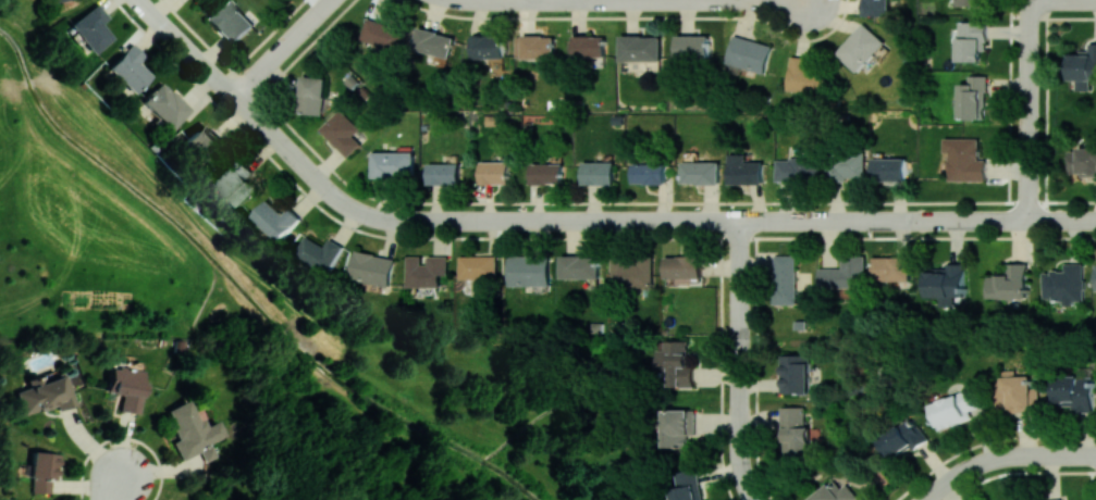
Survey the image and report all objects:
building: (54, 0)
road: (514, 0)
road: (676, 0)
road: (1062, 1)
building: (974, 2)
building: (877, 8)
building: (229, 21)
building: (90, 27)
building: (383, 35)
building: (434, 41)
building: (971, 41)
building: (489, 46)
building: (591, 46)
building: (539, 47)
building: (861, 47)
road: (281, 48)
building: (641, 48)
building: (693, 48)
building: (750, 53)
road: (1030, 54)
building: (128, 67)
building: (1082, 68)
building: (806, 76)
building: (311, 93)
building: (973, 97)
building: (164, 104)
road: (1030, 116)
road: (1045, 117)
building: (341, 132)
building: (200, 145)
building: (965, 159)
building: (1083, 161)
building: (393, 164)
building: (845, 166)
building: (797, 168)
building: (889, 168)
building: (744, 170)
building: (494, 172)
building: (599, 172)
building: (700, 172)
road: (1030, 172)
building: (443, 173)
building: (546, 173)
building: (650, 173)
building: (239, 187)
road: (1062, 218)
building: (276, 220)
road: (541, 220)
park: (113, 222)
building: (320, 253)
building: (580, 266)
building: (684, 266)
building: (372, 267)
building: (891, 268)
building: (427, 270)
building: (479, 270)
building: (530, 270)
building: (631, 272)
building: (845, 273)
building: (785, 278)
building: (946, 280)
building: (1009, 282)
building: (1063, 284)
road: (740, 361)
building: (676, 363)
building: (795, 373)
building: (125, 387)
building: (1015, 391)
building: (1074, 391)
building: (45, 392)
building: (955, 408)
park: (433, 416)
building: (677, 426)
building: (192, 430)
building: (795, 433)
building: (902, 438)
road: (985, 441)
road: (1005, 457)
building: (41, 470)
road: (1019, 471)
road: (115, 485)
building: (685, 485)
building: (835, 492)
building: (1058, 499)

